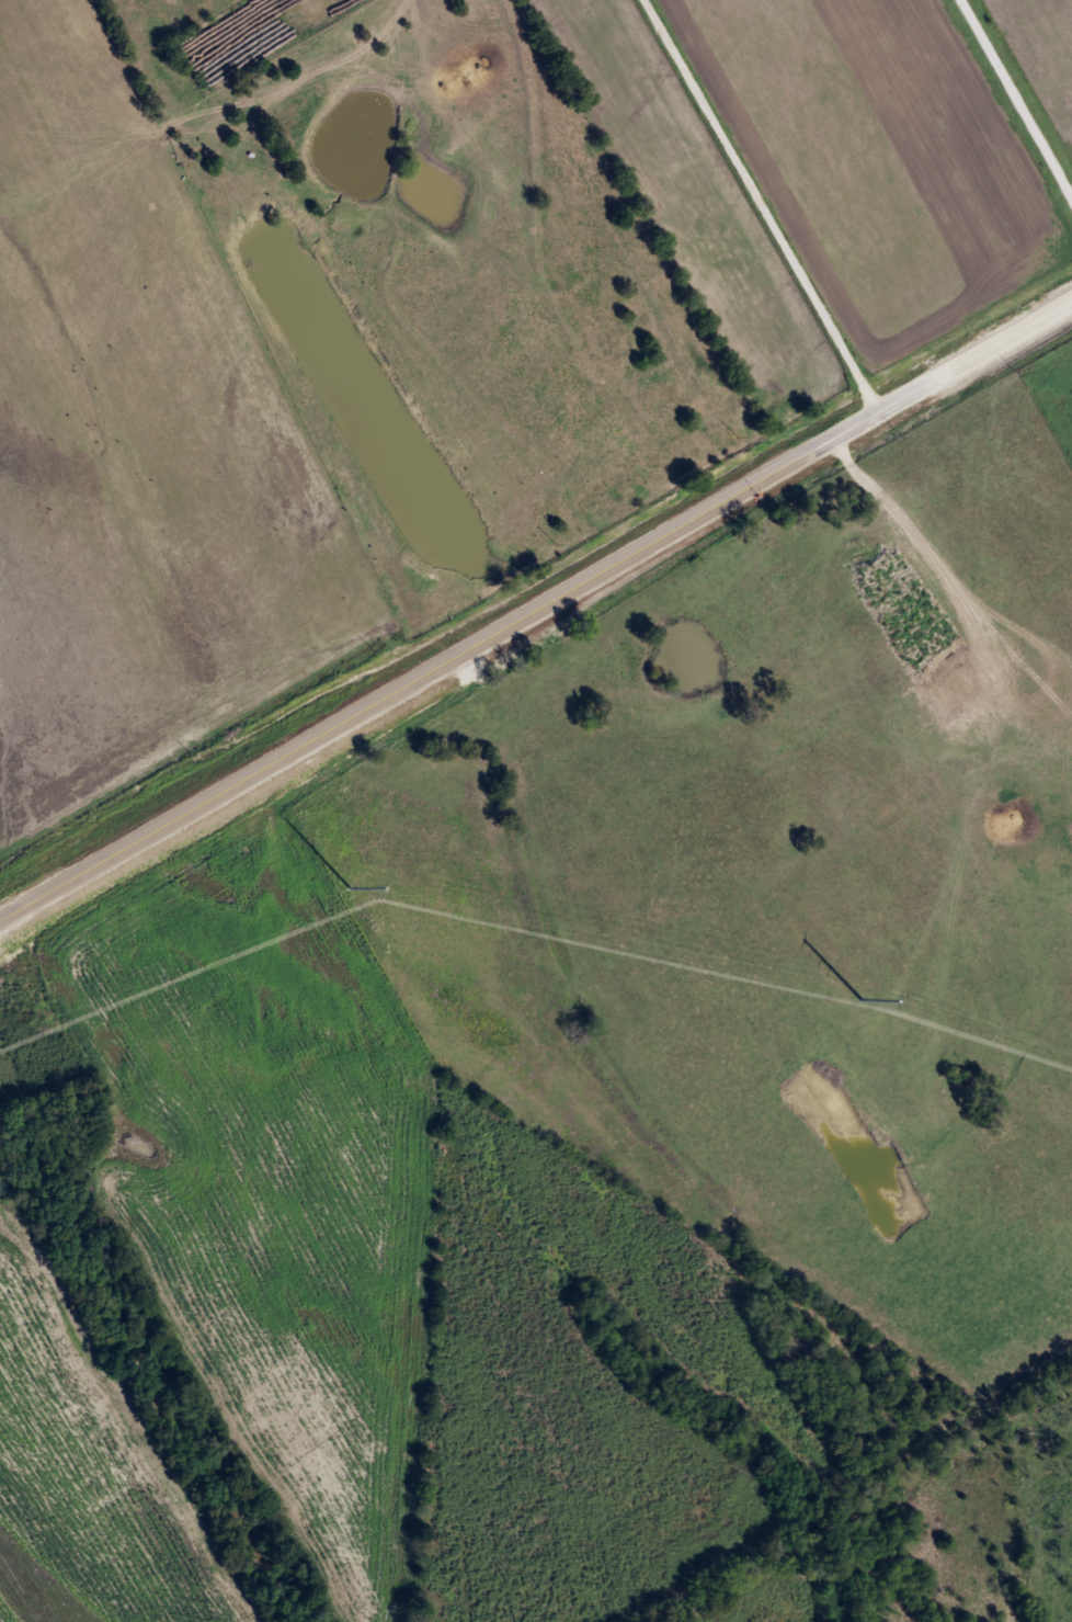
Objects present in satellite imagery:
road: (1016, 97)
road: (760, 208)
road: (534, 605)
power tower: (349, 886)
power tower: (862, 1000)

